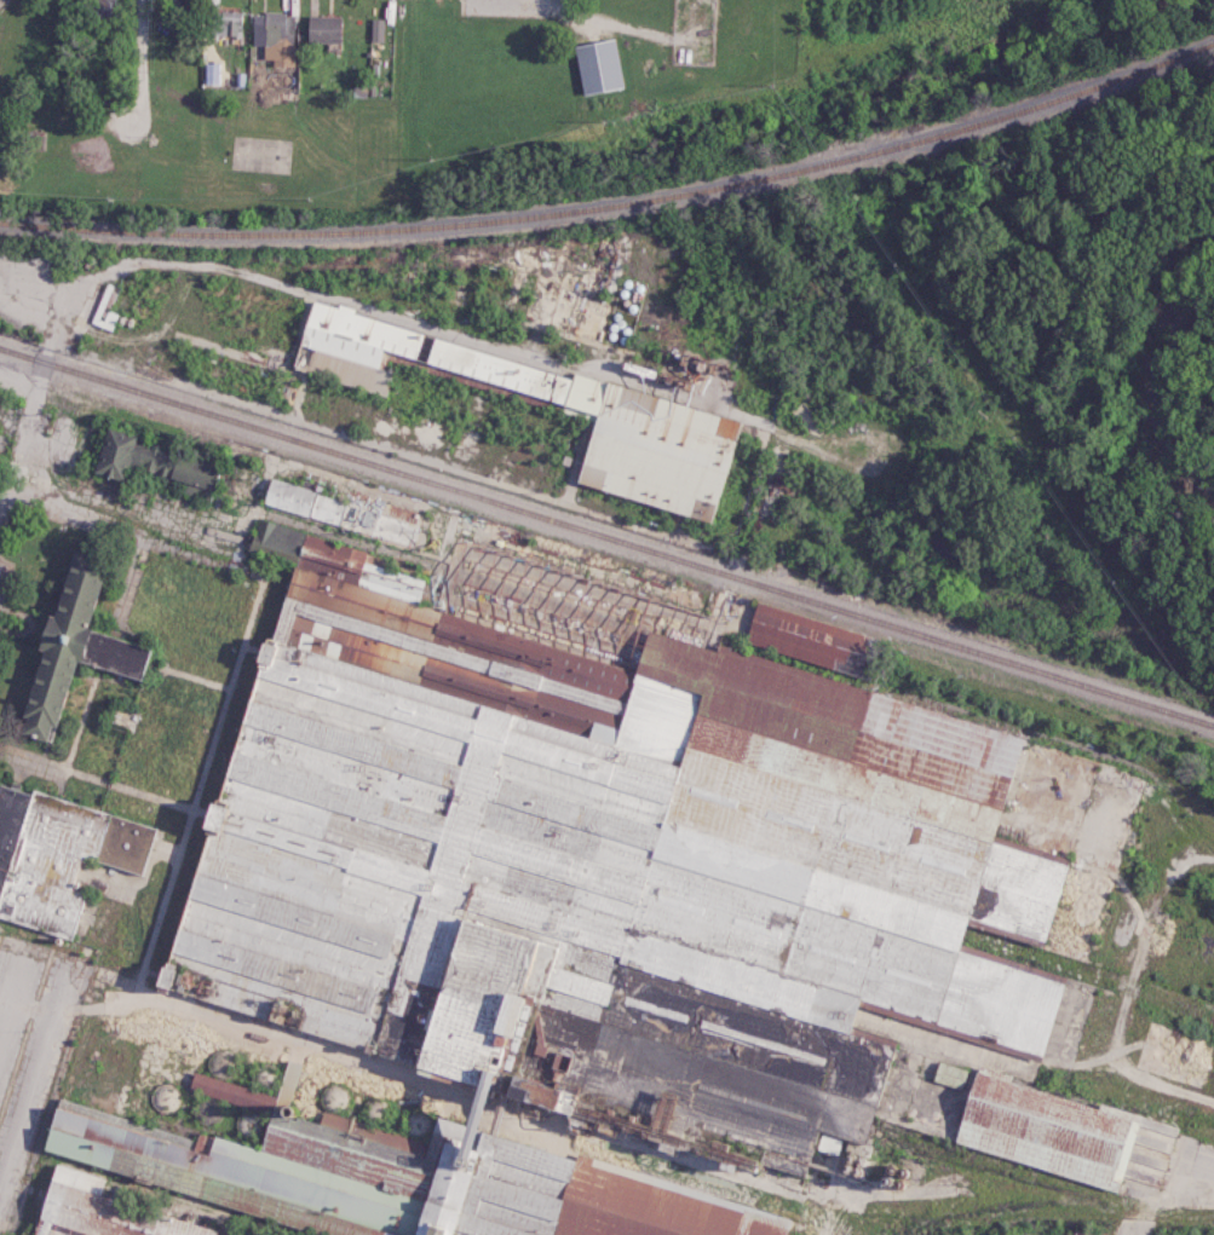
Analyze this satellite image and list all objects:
building: (103, 11)
building: (224, 22)
building: (322, 29)
building: (275, 36)
road: (138, 54)
building: (597, 65)
parking lot: (132, 119)
park: (199, 138)
park: (265, 157)
railway: (617, 206)
road: (209, 264)
building: (103, 317)
building: (352, 334)
building: (347, 373)
building: (617, 432)
building: (150, 461)
building: (303, 502)
railway: (606, 538)
building: (804, 637)
building: (69, 646)
railway: (979, 716)
building: (58, 855)
building: (948, 1073)
building: (289, 1080)
building: (1042, 1129)
building: (96, 1210)
building: (643, 1211)
building: (230, 1234)

